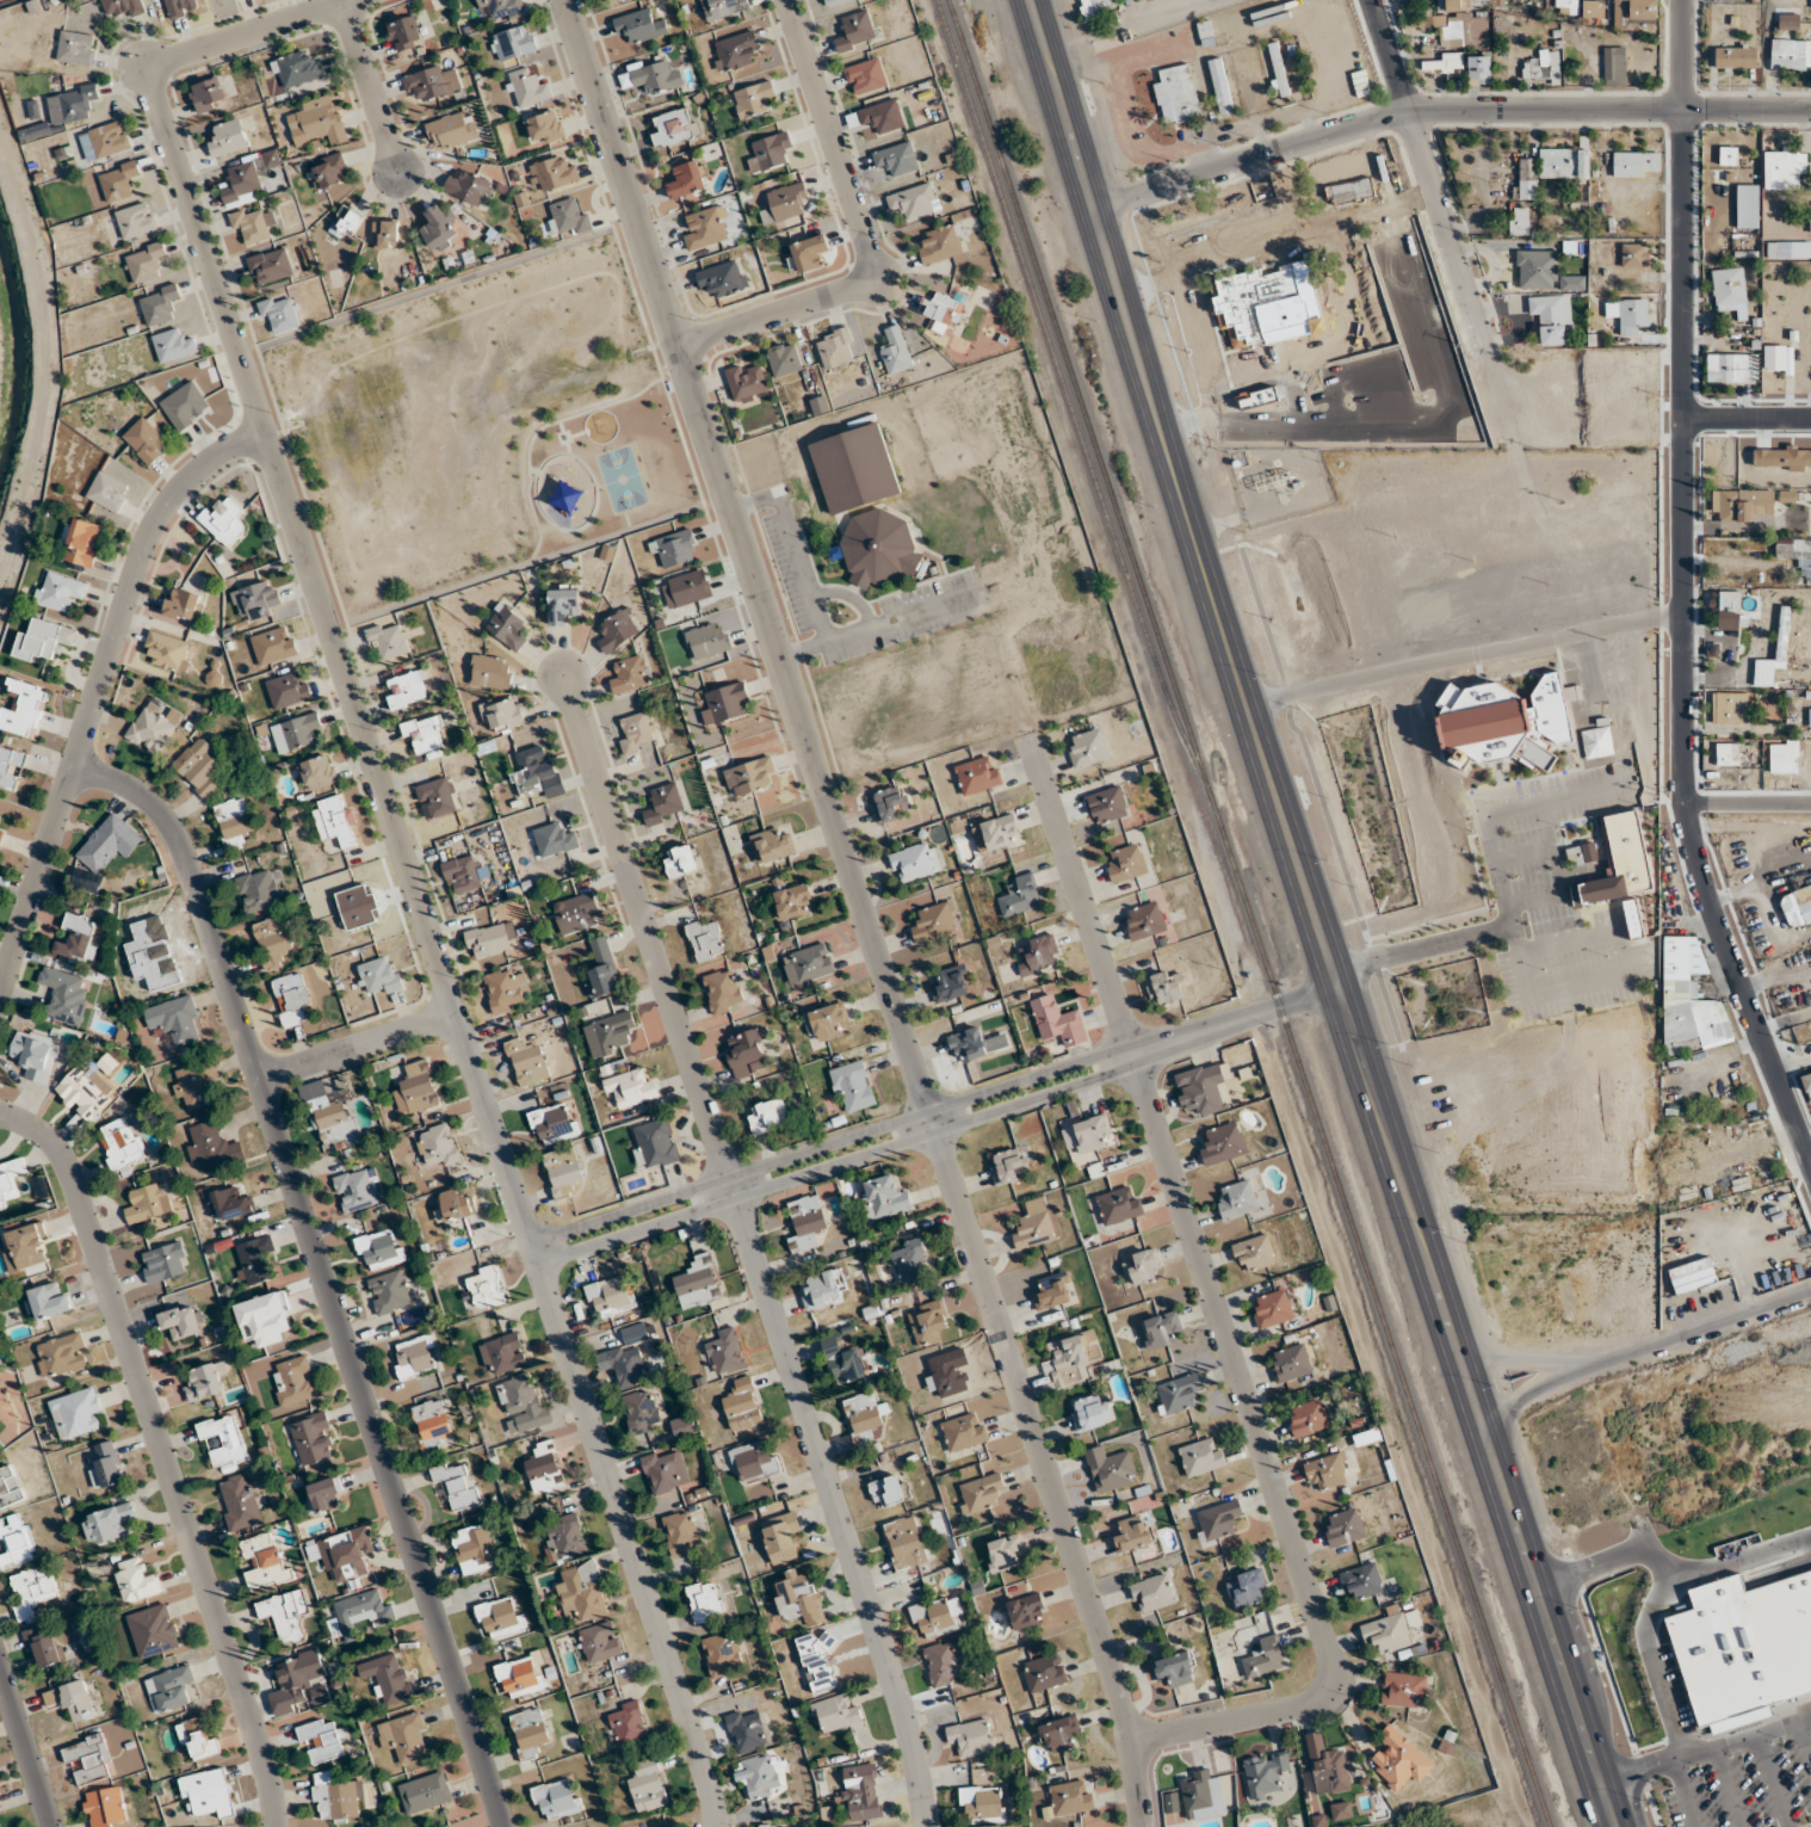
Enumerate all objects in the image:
building: (1732, 0)
building: (834, 1)
building: (1500, 1)
building: (501, 6)
building: (1566, 6)
building: (122, 7)
building: (183, 7)
building: (723, 7)
building: (1092, 8)
building: (1593, 8)
building: (1636, 14)
road: (1131, 17)
building: (641, 25)
building: (1458, 25)
building: (854, 31)
building: (404, 32)
building: (1209, 32)
road: (1063, 38)
building: (513, 43)
building: (76, 48)
building: (735, 50)
building: (1791, 54)
building: (1736, 58)
building: (1446, 61)
building: (1614, 63)
building: (1543, 67)
building: (296, 68)
building: (1279, 68)
building: (1479, 68)
building: (651, 76)
building: (866, 76)
building: (433, 81)
building: (1220, 85)
building: (527, 87)
road: (370, 88)
building: (208, 94)
building: (1178, 94)
building: (753, 99)
building: (72, 103)
road: (1445, 109)
building: (882, 115)
building: (316, 121)
building: (544, 126)
building: (674, 126)
building: (451, 130)
building: (33, 131)
building: (110, 138)
building: (228, 138)
building: (769, 152)
building: (1727, 155)
building: (897, 158)
building: (1566, 161)
building: (1637, 163)
building: (1784, 168)
building: (329, 172)
building: (554, 172)
road: (1426, 175)
building: (1527, 178)
building: (687, 179)
building: (119, 180)
building: (242, 181)
building: (468, 187)
building: (1349, 190)
building: (1385, 191)
building: (914, 200)
building: (785, 202)
building: (1748, 205)
building: (568, 216)
building: (136, 220)
building: (347, 221)
building: (1519, 221)
building: (252, 224)
building: (706, 227)
building: (440, 228)
building: (385, 234)
road: (863, 240)
building: (944, 245)
building: (1788, 248)
building: (806, 253)
building: (1634, 254)
building: (147, 263)
building: (270, 266)
building: (1537, 269)
road: (187, 270)
building: (724, 278)
building: (1362, 278)
road: (1181, 280)
building: (1571, 282)
building: (1730, 290)
building: (160, 303)
building: (942, 308)
building: (1254, 308)
building: (280, 313)
building: (1628, 314)
building: (1552, 317)
road: (746, 341)
building: (174, 345)
building: (835, 348)
building: (895, 350)
building: (1774, 357)
road: (705, 358)
building: (784, 359)
road: (684, 363)
building: (1731, 366)
road: (662, 370)
building: (747, 381)
railway: (1063, 394)
building: (185, 405)
building: (820, 405)
road: (1747, 416)
park: (478, 425)
road: (560, 426)
road: (536, 431)
road: (575, 433)
building: (146, 439)
road: (563, 442)
road: (565, 446)
building: (1772, 458)
building: (854, 468)
road: (532, 470)
park: (622, 479)
power substation: (1278, 481)
building: (107, 490)
building: (1741, 504)
road: (700, 507)
road: (592, 514)
building: (224, 519)
road: (626, 520)
road: (545, 526)
building: (81, 542)
building: (878, 547)
building: (674, 549)
road: (786, 550)
building: (1795, 554)
building: (686, 588)
building: (58, 592)
building: (256, 599)
building: (1729, 601)
building: (183, 603)
building: (563, 603)
road: (1683, 605)
road: (872, 622)
building: (507, 627)
building: (618, 629)
building: (1782, 632)
building: (42, 640)
building: (388, 640)
building: (707, 640)
building: (273, 644)
building: (168, 650)
building: (1798, 661)
road: (1466, 665)
building: (490, 671)
building: (630, 674)
road: (95, 686)
building: (289, 689)
building: (408, 689)
building: (725, 704)
building: (1729, 708)
building: (503, 714)
building: (1810, 717)
building: (1500, 720)
building: (150, 730)
building: (296, 732)
building: (636, 733)
building: (424, 734)
building: (1089, 748)
building: (1727, 753)
building: (1784, 757)
building: (10, 766)
building: (199, 766)
building: (319, 772)
building: (538, 773)
building: (978, 774)
building: (752, 776)
building: (438, 797)
road: (1748, 802)
building: (663, 803)
building: (886, 803)
building: (1106, 804)
building: (234, 820)
building: (335, 820)
building: (1, 825)
building: (996, 834)
building: (555, 839)
building: (109, 841)
road: (398, 844)
building: (772, 845)
building: (680, 860)
building: (915, 862)
building: (1619, 862)
building: (1125, 863)
building: (462, 875)
building: (259, 890)
building: (1020, 896)
building: (793, 902)
building: (1797, 907)
road: (863, 911)
building: (576, 913)
railway: (1247, 913)
road: (1314, 915)
building: (1642, 916)
building: (1144, 920)
building: (934, 921)
road: (645, 925)
building: (78, 937)
building: (705, 938)
building: (488, 939)
building: (273, 940)
building: (1038, 953)
building: (811, 962)
building: (604, 968)
building: (381, 976)
building: (951, 983)
building: (1166, 987)
building: (506, 989)
building: (723, 990)
building: (63, 995)
building: (291, 998)
building: (1691, 999)
building: (177, 1019)
road: (1236, 1020)
building: (829, 1021)
building: (1057, 1021)
building: (610, 1032)
building: (976, 1044)
road: (356, 1045)
building: (744, 1049)
building: (35, 1054)
building: (527, 1061)
building: (1806, 1082)
building: (193, 1086)
building: (852, 1086)
building: (416, 1088)
building: (631, 1088)
building: (1201, 1090)
building: (85, 1092)
building: (767, 1116)
building: (334, 1119)
building: (552, 1123)
building: (1092, 1132)
building: (653, 1143)
road: (830, 1143)
building: (120, 1144)
building: (1223, 1144)
building: (438, 1146)
building: (212, 1147)
building: (1009, 1165)
road: (837, 1166)
building: (563, 1169)
building: (7, 1186)
building: (358, 1189)
building: (885, 1197)
building: (1236, 1198)
building: (148, 1203)
building: (231, 1204)
building: (456, 1204)
building: (1119, 1205)
building: (1741, 1206)
building: (809, 1218)
building: (1037, 1224)
building: (26, 1248)
building: (379, 1249)
building: (1253, 1253)
building: (909, 1258)
building: (254, 1260)
building: (165, 1263)
building: (1144, 1267)
road: (319, 1269)
building: (699, 1282)
building: (484, 1288)
building: (824, 1288)
building: (389, 1291)
building: (1053, 1291)
building: (611, 1296)
building: (47, 1301)
building: (1272, 1308)
road: (1216, 1309)
building: (266, 1317)
building: (181, 1322)
building: (928, 1322)
road: (1705, 1327)
building: (1161, 1329)
building: (724, 1350)
building: (61, 1354)
building: (502, 1354)
building: (415, 1357)
building: (842, 1359)
building: (1073, 1359)
road: (1529, 1360)
building: (1291, 1363)
building: (628, 1365)
building: (948, 1375)
building: (293, 1379)
building: (205, 1381)
road: (1539, 1391)
building: (1178, 1393)
building: (524, 1402)
building: (742, 1405)
building: (641, 1411)
building: (1092, 1412)
building: (74, 1413)
building: (863, 1416)
building: (1308, 1418)
building: (433, 1425)
building: (682, 1426)
building: (964, 1431)
building: (313, 1438)
building: (224, 1439)
road: (162, 1455)
building: (1201, 1457)
building: (754, 1461)
building: (106, 1465)
building: (544, 1468)
building: (1110, 1468)
building: (665, 1469)
building: (1324, 1473)
building: (458, 1483)
building: (10, 1487)
building: (889, 1490)
building: (982, 1490)
building: (323, 1495)
road: (834, 1500)
building: (239, 1502)
building: (1217, 1520)
building: (109, 1523)
building: (1343, 1527)
building: (682, 1532)
building: (1133, 1532)
building: (565, 1536)
building: (780, 1537)
building: (17, 1541)
building: (905, 1542)
building: (474, 1548)
building: (1005, 1551)
building: (346, 1554)
building: (265, 1562)
road: (1736, 1564)
building: (137, 1580)
building: (1361, 1582)
building: (1248, 1588)
building: (33, 1590)
building: (582, 1592)
building: (1152, 1593)
building: (799, 1595)
building: (704, 1600)
building: (1027, 1611)
building: (361, 1612)
building: (285, 1613)
building: (499, 1617)
building: (938, 1617)
building: (153, 1630)
building: (1391, 1630)
road: (1646, 1638)
building: (600, 1642)
building: (43, 1646)
building: (1744, 1648)
building: (721, 1654)
building: (1265, 1658)
building: (818, 1659)
building: (945, 1662)
building: (1176, 1668)
building: (1044, 1672)
building: (520, 1677)
building: (388, 1678)
building: (295, 1680)
building: (171, 1687)
building: (1403, 1690)
building: (72, 1699)
building: (836, 1712)
building: (628, 1723)
building: (746, 1730)
building: (529, 1732)
building: (1059, 1733)
building: (406, 1736)
building: (971, 1737)
building: (199, 1739)
road: (1747, 1739)
building: (323, 1740)
road: (25, 1749)
building: (89, 1758)
building: (1399, 1759)
building: (1328, 1766)
building: (1266, 1774)
building: (759, 1776)
building: (648, 1785)
building: (425, 1792)
building: (861, 1792)
building: (1201, 1795)
building: (336, 1797)
building: (557, 1798)
building: (1070, 1798)
building: (1172, 1802)
building: (981, 1803)
building: (105, 1808)
building: (1341, 1810)
building: (777, 1825)

